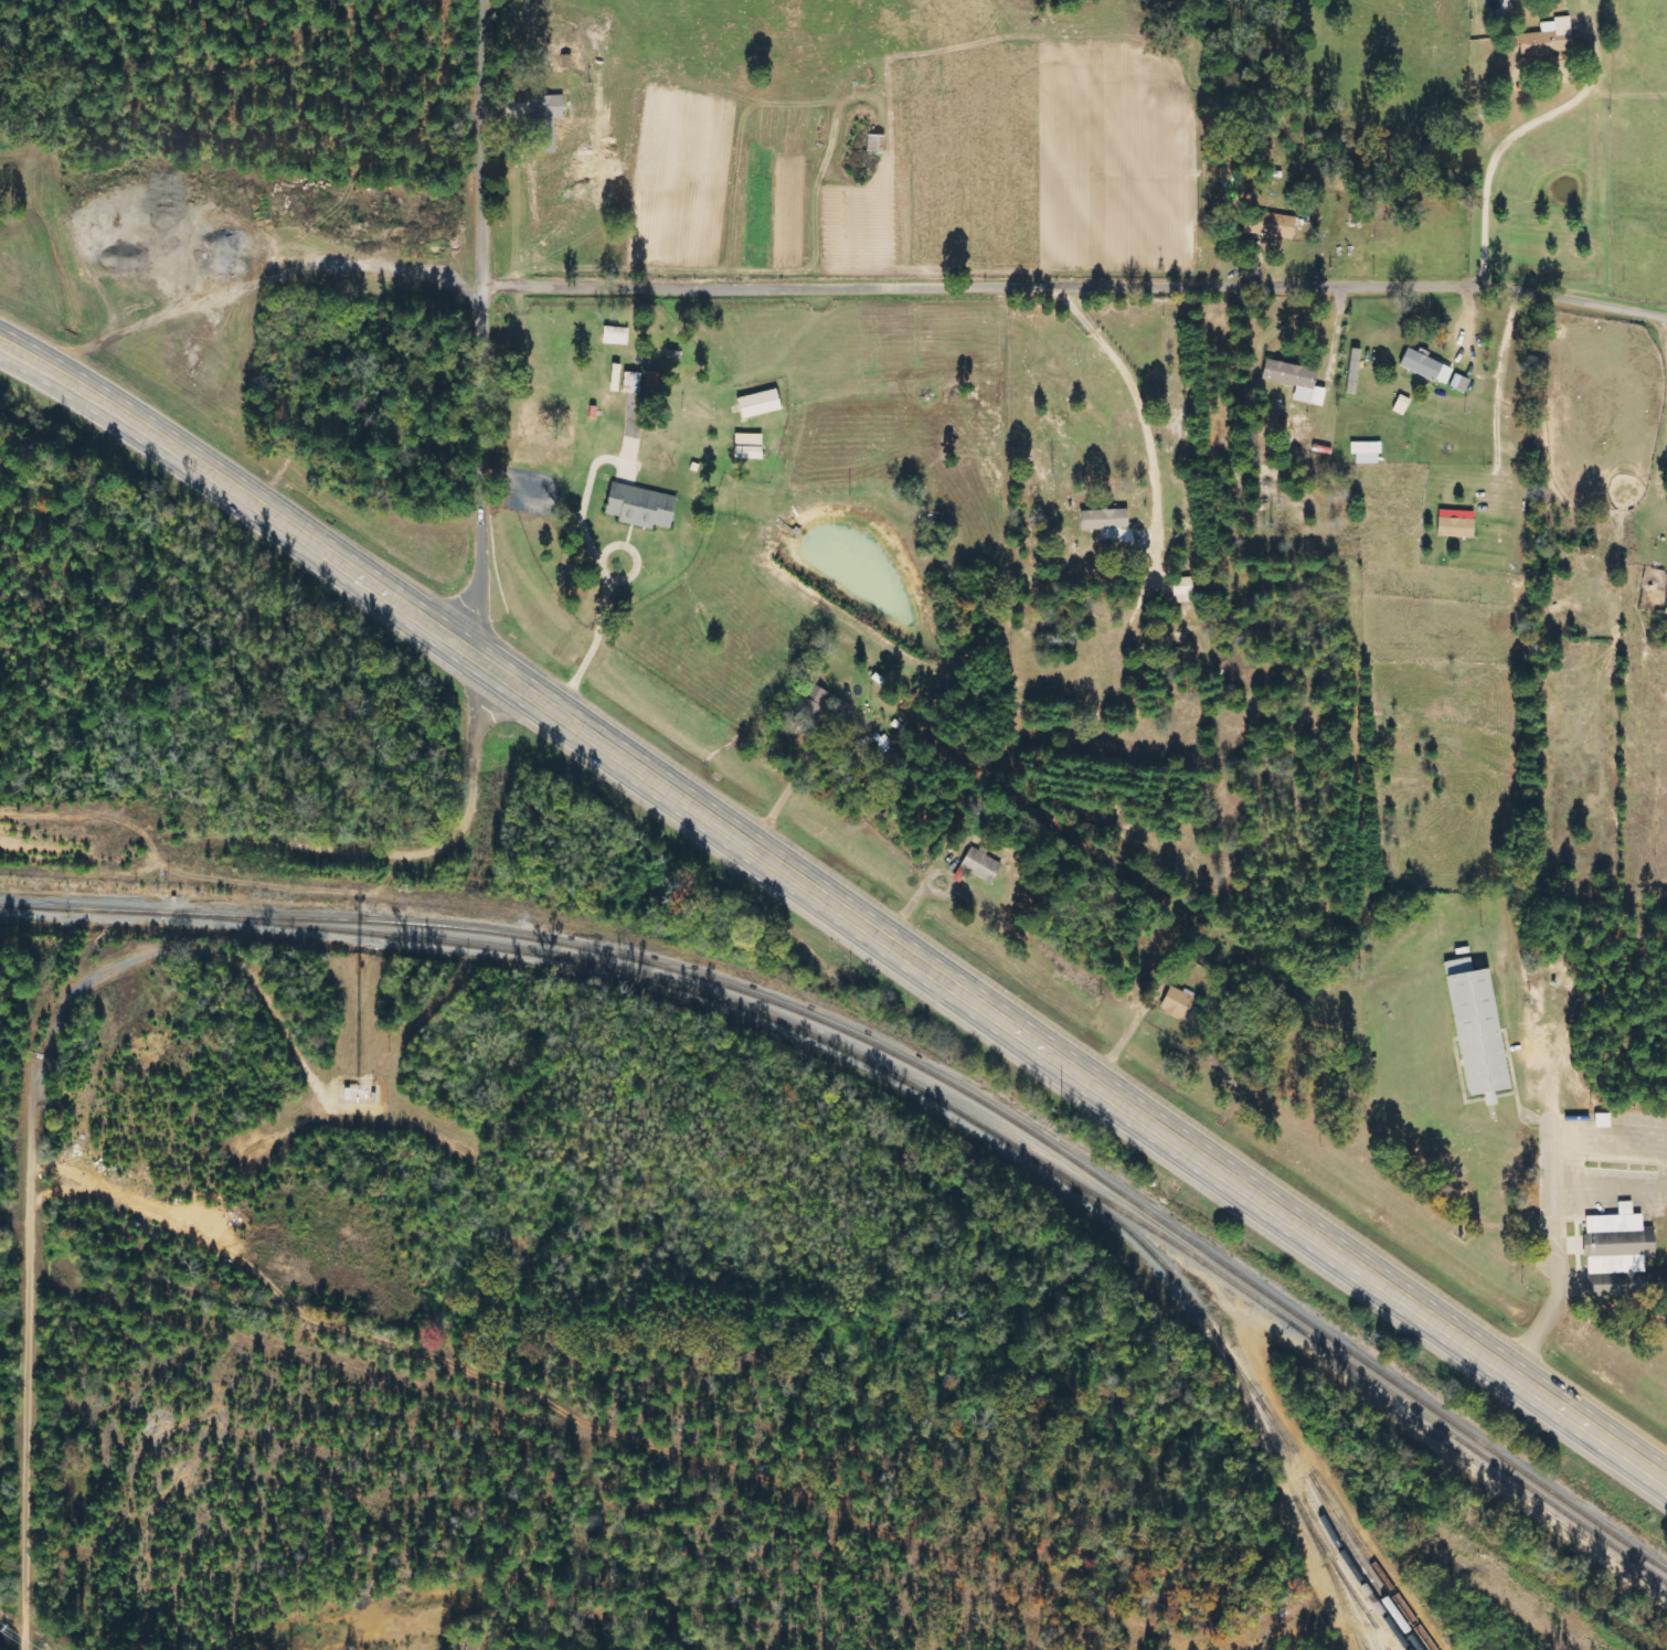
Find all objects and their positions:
building: (1547, 39)
building: (546, 121)
building: (1270, 225)
road: (1080, 289)
building: (615, 336)
road: (19, 356)
road: (19, 362)
building: (1424, 366)
building: (1294, 381)
building: (757, 404)
building: (746, 446)
building: (1365, 453)
building: (638, 507)
building: (1102, 520)
building: (1454, 524)
road: (490, 573)
building: (1181, 590)
building: (809, 709)
building: (979, 865)
road: (857, 913)
building: (1176, 1002)
building: (1474, 1026)
railway: (901, 1056)
railway: (988, 1129)
road: (1522, 1185)
building: (1616, 1242)
road: (32, 1324)
railway: (1239, 1371)
railway: (1295, 1497)
railway: (1349, 1530)
railway: (1362, 1567)
railway: (1345, 1578)
railway: (1358, 1610)
railway: (1350, 1611)
railway: (1380, 1636)
railway: (1358, 1649)

